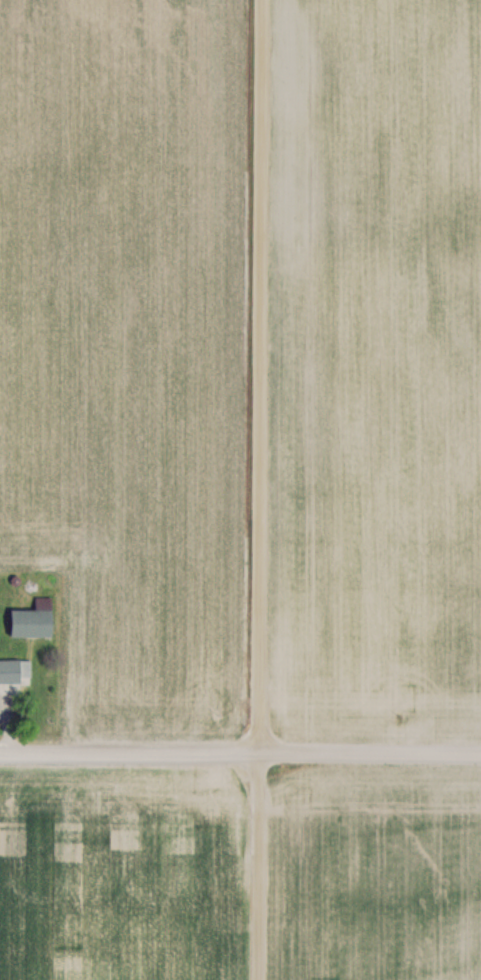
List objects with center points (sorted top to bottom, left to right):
road: (261, 489)
building: (31, 620)
building: (14, 671)
road: (240, 751)

